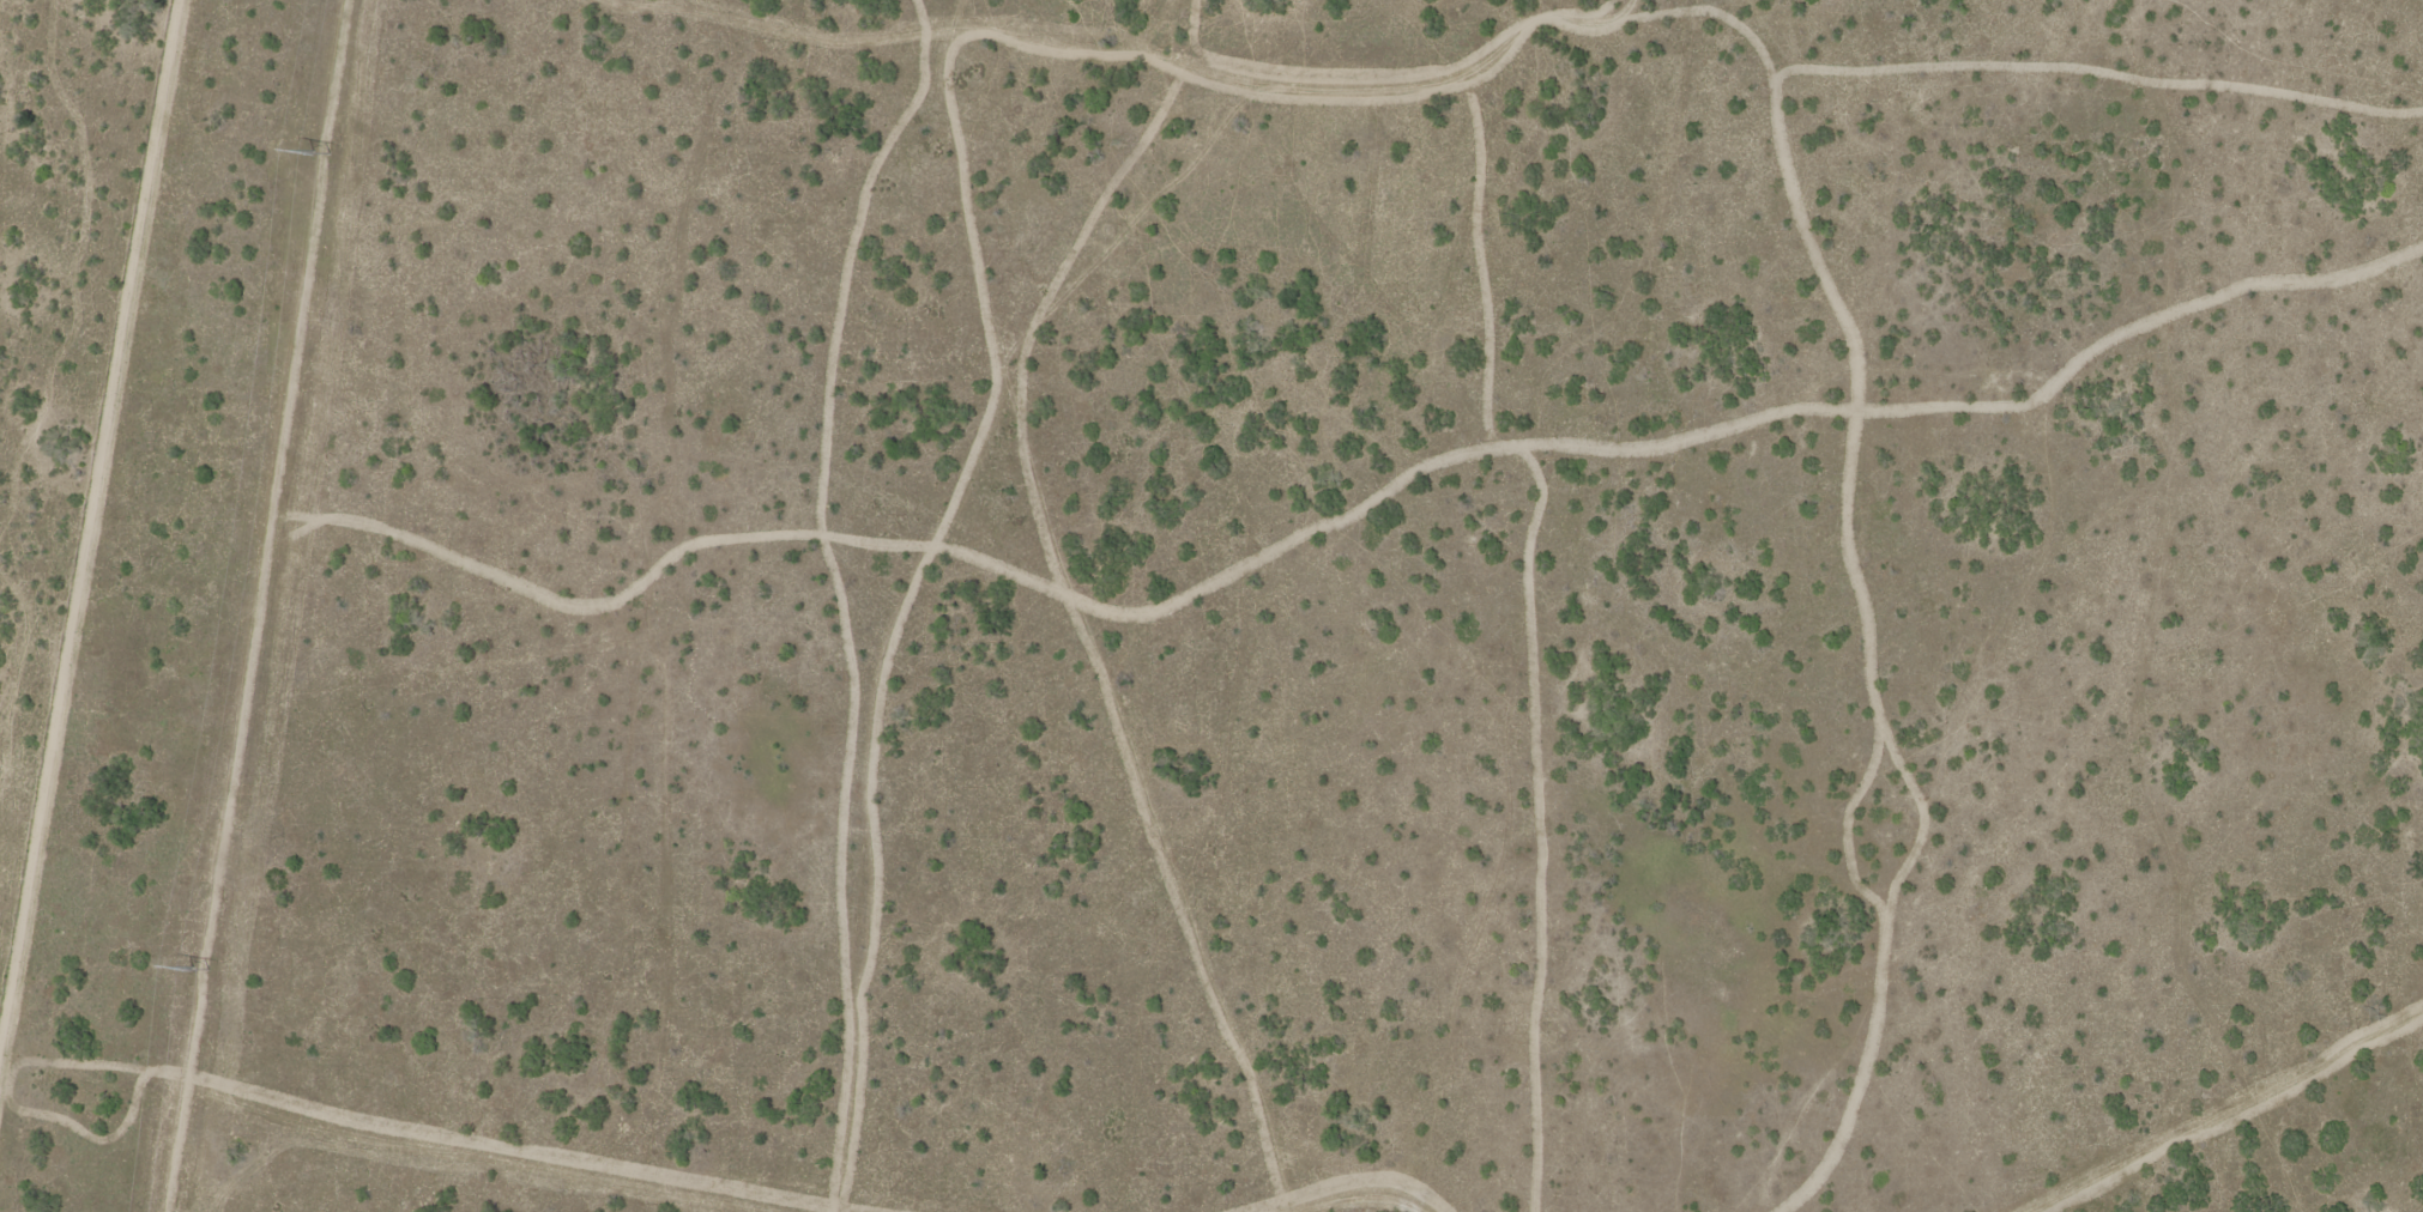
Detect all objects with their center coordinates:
power tower: (316, 151)
power tower: (197, 969)

